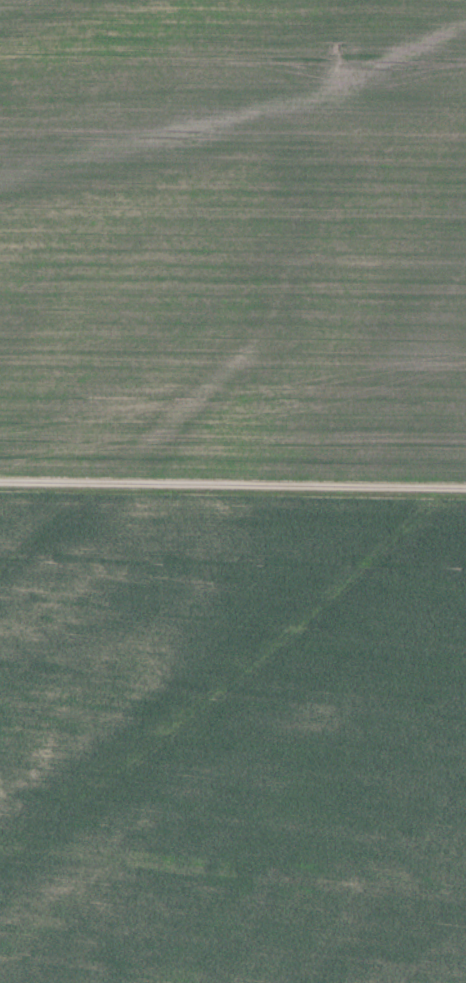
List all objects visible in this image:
road: (233, 486)

